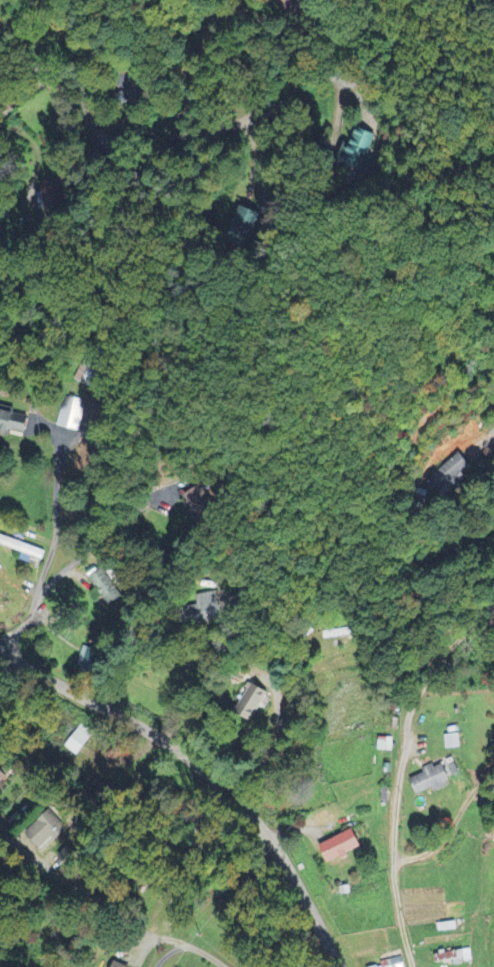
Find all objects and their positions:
road: (299, 85)
road: (99, 131)
building: (50, 196)
building: (70, 415)
building: (12, 424)
road: (493, 430)
building: (453, 472)
building: (202, 505)
road: (55, 514)
building: (28, 553)
road: (69, 565)
building: (103, 585)
road: (204, 675)
building: (252, 702)
road: (285, 725)
building: (79, 740)
building: (452, 742)
building: (386, 744)
road: (397, 771)
road: (204, 772)
building: (436, 778)
building: (3, 779)
road: (450, 829)
building: (342, 847)
road: (47, 870)
road: (131, 876)
road: (167, 953)
road: (203, 954)
building: (458, 957)
building: (394, 963)
building: (118, 965)

